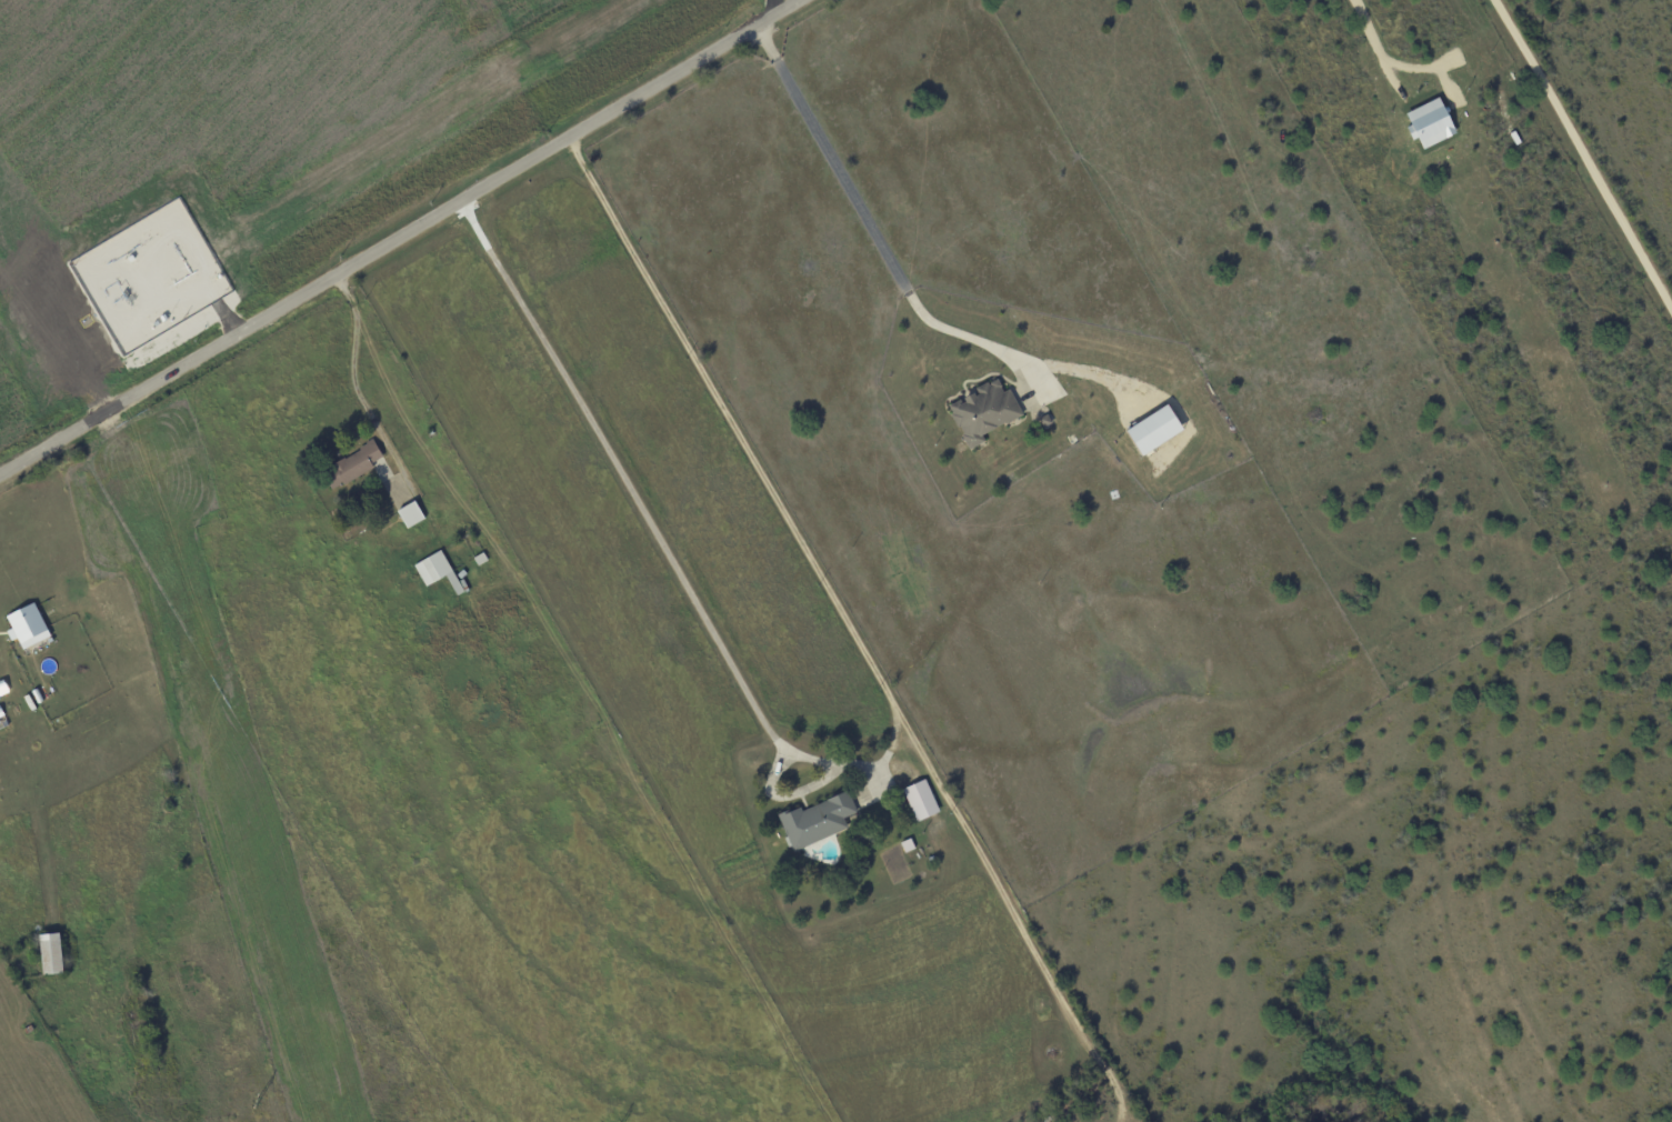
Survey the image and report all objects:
road: (1362, 43)
building: (1430, 123)
road: (1593, 133)
road: (874, 236)
road: (400, 238)
road: (343, 373)
building: (982, 411)
building: (1152, 429)
building: (356, 461)
building: (408, 513)
road: (659, 543)
building: (435, 570)
building: (24, 625)
road: (849, 631)
building: (919, 800)
building: (814, 820)
building: (905, 844)
building: (49, 953)
power tower: (256, 1102)

